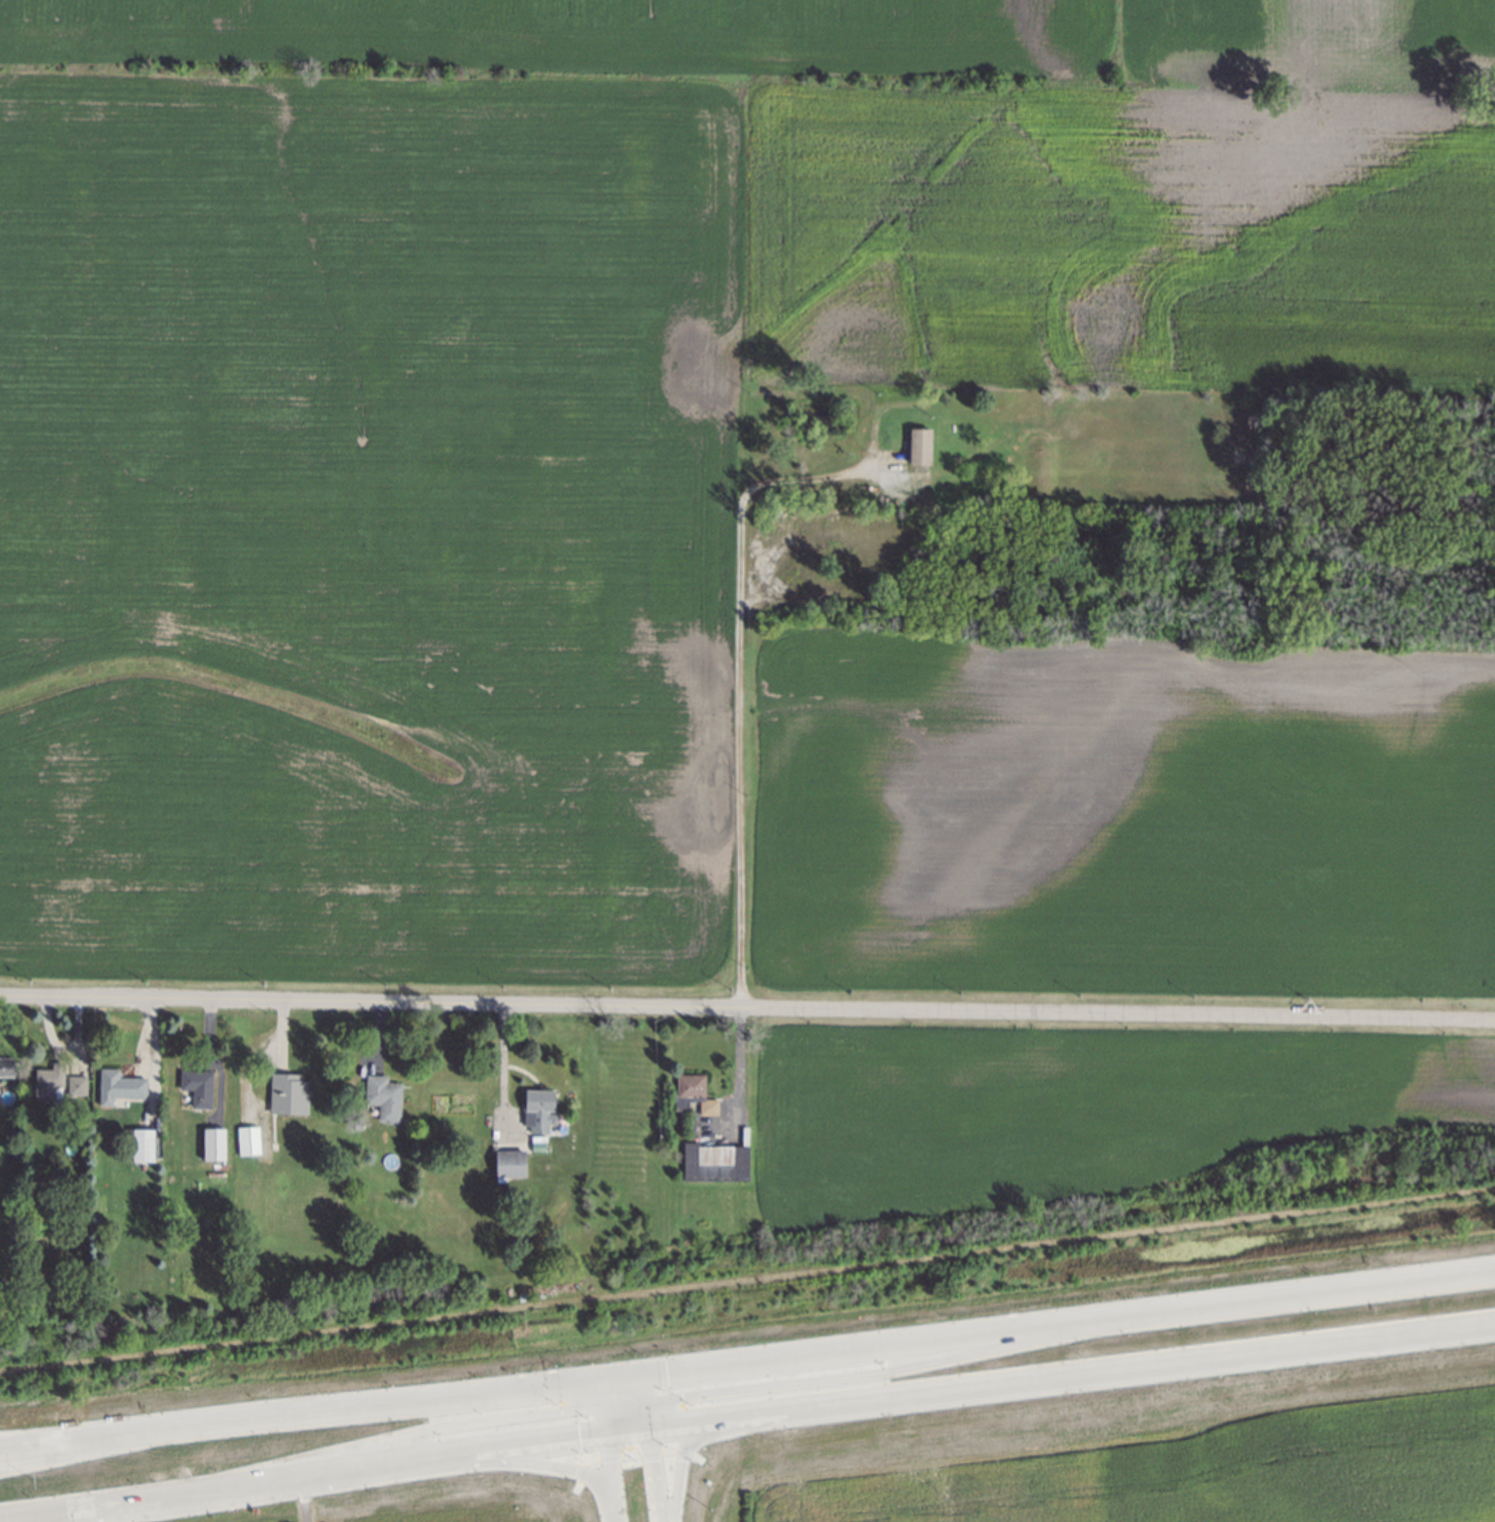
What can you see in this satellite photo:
building: (921, 445)
crop: (702, 496)
road: (735, 675)
road: (747, 1007)
road: (743, 1065)
building: (6, 1066)
road: (502, 1069)
building: (49, 1081)
building: (77, 1085)
building: (120, 1086)
building: (199, 1087)
building: (697, 1091)
building: (289, 1093)
building: (384, 1097)
building: (540, 1108)
building: (249, 1140)
building: (142, 1144)
building: (214, 1144)
building: (511, 1163)
road: (1057, 1321)
traffic signals: (657, 1370)
road: (1101, 1370)
road: (874, 1373)
road: (628, 1389)
traffic signals: (682, 1397)
road: (310, 1409)
traffic signals: (562, 1411)
road: (615, 1412)
road: (641, 1415)
road: (677, 1423)
road: (417, 1430)
road: (625, 1430)
traffic signals: (588, 1435)
road: (18, 1442)
crop: (1030, 1460)
traffic signals: (651, 1461)
road: (609, 1462)
road: (680, 1466)
road: (403, 1473)
road: (653, 1474)
road: (302, 1475)
road: (614, 1506)

